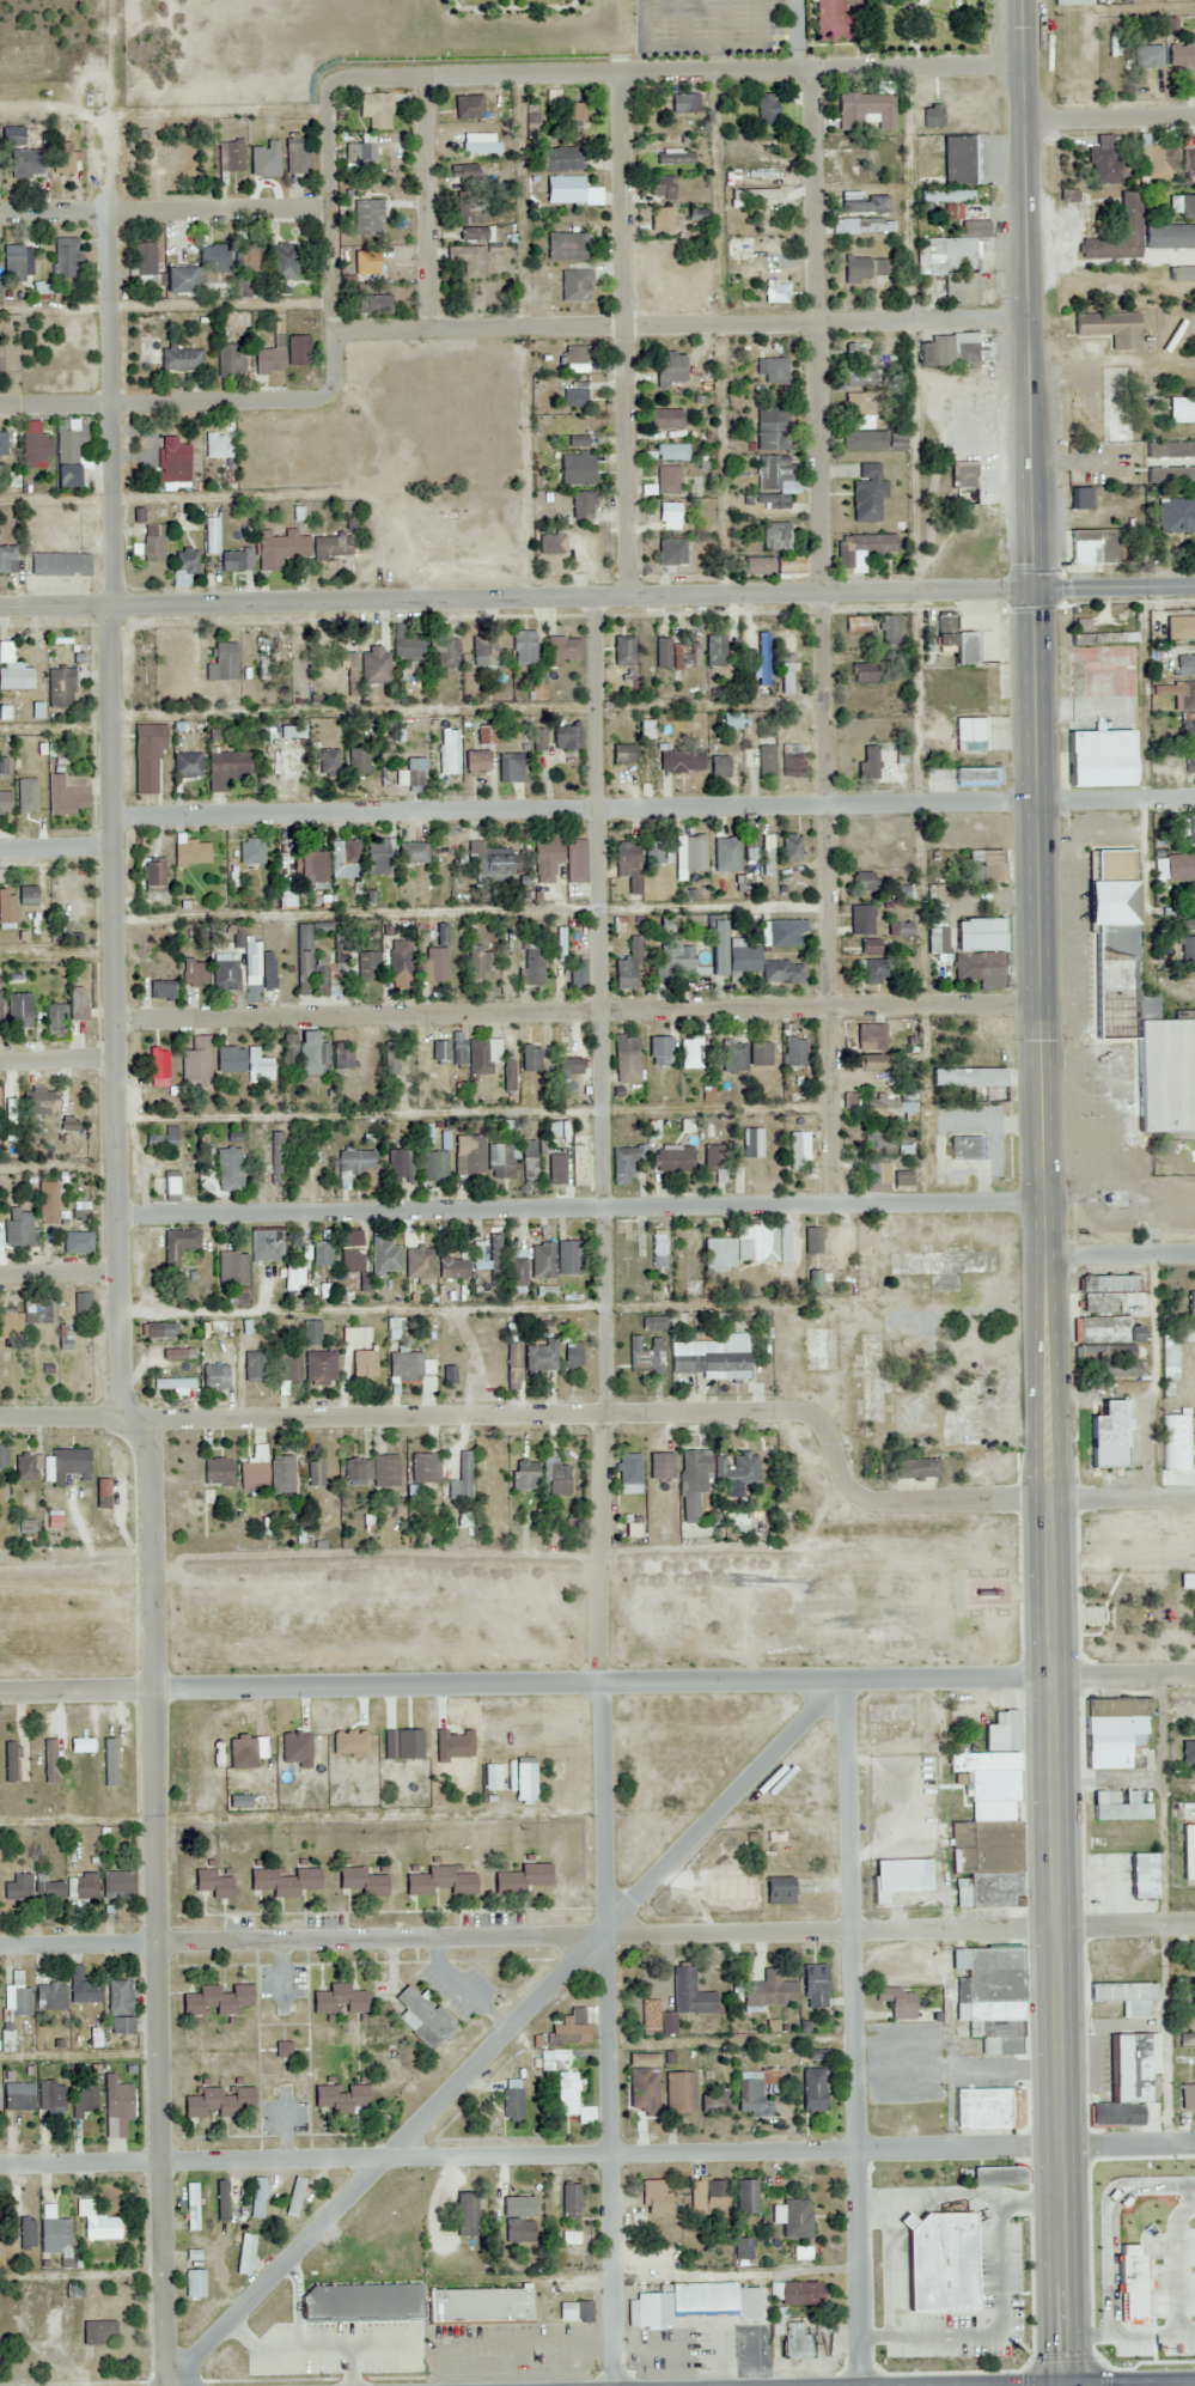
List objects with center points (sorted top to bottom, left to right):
building: (1072, 2)
building: (837, 20)
building: (1146, 55)
building: (1181, 56)
road: (921, 74)
road: (450, 79)
building: (683, 103)
building: (467, 106)
building: (766, 108)
building: (374, 109)
building: (544, 109)
building: (574, 111)
building: (865, 111)
road: (1110, 121)
building: (13, 135)
building: (297, 154)
building: (230, 157)
building: (673, 158)
building: (1189, 158)
building: (560, 159)
building: (958, 159)
building: (1163, 160)
building: (26, 162)
building: (68, 162)
building: (165, 162)
building: (1103, 163)
building: (464, 174)
building: (659, 187)
building: (563, 189)
road: (108, 197)
building: (943, 199)
road: (626, 203)
building: (1182, 206)
road: (429, 207)
building: (470, 208)
building: (1129, 214)
road: (220, 215)
road: (54, 218)
building: (367, 218)
building: (661, 219)
building: (964, 223)
building: (859, 226)
building: (471, 233)
building: (565, 246)
building: (66, 257)
building: (217, 257)
building: (144, 260)
building: (470, 260)
building: (281, 261)
building: (17, 263)
building: (950, 267)
building: (250, 268)
building: (865, 268)
building: (178, 278)
building: (574, 285)
building: (42, 291)
building: (774, 294)
building: (373, 304)
road: (111, 312)
building: (1108, 328)
road: (538, 330)
road: (823, 335)
building: (297, 349)
building: (946, 351)
building: (854, 354)
building: (1, 355)
building: (578, 355)
building: (178, 359)
building: (230, 359)
building: (669, 369)
building: (772, 370)
building: (859, 379)
building: (574, 395)
road: (57, 407)
building: (1182, 410)
building: (858, 413)
building: (665, 419)
building: (772, 430)
building: (71, 440)
building: (574, 442)
building: (872, 442)
building: (212, 443)
building: (2, 445)
building: (36, 446)
building: (671, 452)
building: (171, 461)
building: (1170, 463)
road: (629, 464)
building: (575, 469)
building: (773, 474)
building: (71, 475)
building: (962, 476)
building: (667, 480)
building: (867, 494)
building: (1080, 498)
building: (774, 503)
building: (583, 505)
road: (114, 509)
building: (667, 512)
building: (1177, 516)
building: (211, 535)
building: (775, 537)
building: (153, 543)
building: (551, 544)
building: (330, 547)
building: (1097, 547)
building: (279, 548)
building: (861, 548)
building: (670, 553)
building: (7, 559)
building: (185, 560)
building: (232, 561)
building: (61, 562)
building: (772, 566)
road: (1116, 590)
traffic signals: (1037, 594)
road: (575, 603)
road: (56, 610)
building: (855, 626)
building: (888, 629)
building: (955, 643)
building: (407, 645)
building: (524, 647)
building: (562, 649)
building: (483, 651)
building: (623, 651)
building: (717, 651)
building: (445, 653)
building: (661, 653)
building: (684, 655)
building: (263, 658)
building: (222, 662)
building: (374, 665)
building: (1185, 665)
building: (298, 668)
building: (861, 672)
building: (17, 676)
building: (785, 678)
building: (62, 688)
building: (1187, 695)
road: (827, 700)
building: (1187, 726)
building: (644, 730)
building: (969, 735)
building: (565, 736)
building: (146, 755)
building: (622, 755)
building: (1097, 759)
building: (792, 760)
building: (358, 761)
building: (475, 761)
building: (679, 761)
building: (766, 761)
building: (328, 762)
building: (867, 762)
building: (187, 765)
building: (289, 766)
building: (1189, 766)
building: (510, 767)
building: (646, 767)
building: (719, 767)
building: (225, 768)
building: (415, 773)
building: (975, 777)
building: (68, 797)
building: (6, 802)
road: (1117, 802)
road: (578, 814)
building: (1185, 829)
building: (860, 833)
road: (59, 848)
building: (791, 848)
building: (251, 851)
building: (762, 851)
building: (411, 852)
building: (191, 853)
building: (656, 854)
building: (690, 854)
building: (725, 854)
building: (376, 857)
building: (345, 859)
building: (560, 859)
building: (1179, 863)
building: (492, 864)
building: (627, 864)
building: (312, 866)
building: (983, 866)
building: (151, 876)
building: (862, 882)
building: (71, 888)
building: (902, 893)
building: (29, 895)
building: (1191, 899)
building: (7, 905)
road: (828, 906)
building: (861, 920)
building: (1185, 926)
building: (898, 930)
building: (784, 932)
building: (978, 933)
building: (937, 935)
building: (560, 944)
building: (870, 947)
building: (717, 948)
building: (1185, 949)
building: (250, 958)
building: (303, 958)
building: (435, 958)
building: (743, 960)
building: (673, 961)
building: (400, 962)
building: (362, 966)
building: (531, 968)
building: (481, 969)
building: (978, 969)
building: (267, 970)
building: (782, 972)
building: (873, 972)
building: (194, 973)
building: (225, 973)
building: (577, 973)
building: (623, 974)
building: (322, 975)
building: (161, 991)
building: (79, 1004)
building: (1136, 1004)
building: (0, 1006)
building: (20, 1011)
building: (53, 1017)
road: (580, 1017)
building: (659, 1051)
building: (456, 1052)
building: (794, 1052)
building: (691, 1053)
building: (304, 1054)
building: (758, 1054)
building: (482, 1055)
building: (342, 1057)
building: (731, 1057)
building: (390, 1059)
building: (529, 1059)
road: (59, 1060)
building: (196, 1060)
building: (230, 1060)
building: (626, 1060)
building: (867, 1063)
building: (257, 1066)
building: (568, 1066)
building: (158, 1067)
building: (507, 1076)
building: (306, 1083)
building: (971, 1084)
building: (798, 1096)
building: (32, 1101)
building: (850, 1101)
road: (834, 1107)
building: (882, 1108)
road: (928, 1110)
building: (164, 1138)
building: (879, 1139)
road: (605, 1144)
building: (964, 1149)
building: (797, 1151)
building: (471, 1156)
building: (1194, 1157)
building: (275, 1158)
building: (673, 1158)
building: (529, 1159)
building: (713, 1159)
building: (355, 1162)
building: (435, 1162)
building: (500, 1162)
building: (624, 1164)
building: (397, 1165)
building: (228, 1169)
building: (555, 1169)
building: (876, 1174)
building: (188, 1182)
building: (166, 1185)
building: (47, 1193)
road: (1044, 1193)
road: (583, 1206)
building: (19, 1227)
building: (811, 1241)
building: (177, 1246)
building: (266, 1247)
building: (748, 1247)
building: (322, 1253)
building: (352, 1254)
building: (657, 1254)
building: (477, 1255)
road: (1121, 1256)
building: (384, 1258)
building: (568, 1258)
building: (495, 1260)
building: (545, 1260)
building: (422, 1264)
building: (517, 1267)
building: (232, 1268)
building: (452, 1268)
building: (293, 1274)
road: (61, 1276)
building: (1103, 1292)
building: (1191, 1303)
building: (83, 1307)
building: (25, 1314)
building: (736, 1320)
building: (652, 1323)
building: (159, 1331)
building: (1106, 1331)
building: (311, 1333)
building: (355, 1337)
building: (1172, 1349)
building: (572, 1356)
building: (541, 1357)
building: (646, 1357)
building: (711, 1357)
building: (1111, 1359)
building: (362, 1364)
building: (254, 1365)
building: (404, 1365)
building: (288, 1367)
building: (512, 1367)
building: (319, 1368)
building: (447, 1376)
building: (212, 1377)
building: (172, 1383)
road: (689, 1417)
road: (68, 1423)
building: (1108, 1436)
building: (1176, 1442)
building: (4, 1456)
building: (71, 1463)
building: (25, 1466)
building: (425, 1468)
building: (916, 1468)
building: (736, 1469)
building: (217, 1472)
building: (371, 1472)
building: (254, 1473)
building: (528, 1473)
building: (629, 1473)
building: (281, 1474)
building: (315, 1474)
building: (463, 1475)
building: (557, 1479)
building: (693, 1487)
road: (152, 1495)
building: (795, 1507)
railway: (597, 1568)
building: (1187, 1582)
road: (676, 1686)
road: (78, 1688)
building: (1112, 1734)
building: (83, 1743)
building: (1188, 1752)
building: (109, 1758)
building: (11, 1760)
building: (51, 1760)
building: (992, 1763)
building: (524, 1783)
building: (467, 1784)
building: (1114, 1809)
building: (775, 1836)
building: (1188, 1852)
building: (986, 1862)
building: (522, 1879)
building: (286, 1880)
building: (364, 1881)
building: (214, 1882)
building: (440, 1882)
building: (86, 1885)
building: (18, 1886)
building: (117, 1887)
building: (48, 1888)
building: (727, 1888)
building: (902, 1889)
building: (778, 1891)
road: (677, 1928)
road: (80, 1944)
building: (84, 1986)
building: (812, 1986)
building: (1191, 1988)
building: (769, 1991)
building: (19, 1994)
building: (689, 1994)
building: (51, 1996)
building: (989, 1996)
building: (1126, 1996)
building: (219, 1998)
building: (340, 1998)
building: (897, 2002)
building: (121, 2005)
building: (648, 2017)
building: (422, 2019)
building: (567, 2031)
road: (508, 2035)
road: (612, 2037)
road: (860, 2037)
building: (1187, 2040)
building: (1126, 2080)
building: (812, 2089)
building: (752, 2090)
building: (678, 2092)
building: (51, 2094)
building: (18, 2095)
building: (1187, 2095)
building: (86, 2096)
building: (342, 2096)
building: (117, 2099)
building: (512, 2099)
building: (221, 2101)
building: (714, 2101)
building: (572, 2102)
building: (982, 2108)
road: (597, 2162)
building: (998, 2175)
building: (295, 2196)
building: (745, 2196)
building: (258, 2197)
building: (654, 2197)
building: (707, 2197)
building: (222, 2199)
building: (569, 2201)
building: (193, 2205)
building: (467, 2214)
building: (1146, 2216)
building: (797, 2218)
building: (98, 2222)
building: (519, 2230)
building: (55, 2232)
building: (28, 2233)
building: (246, 2252)
building: (195, 2282)
building: (794, 2294)
building: (361, 2300)
building: (694, 2302)
building: (478, 2305)
building: (581, 2312)
building: (99, 2332)
building: (794, 2341)

